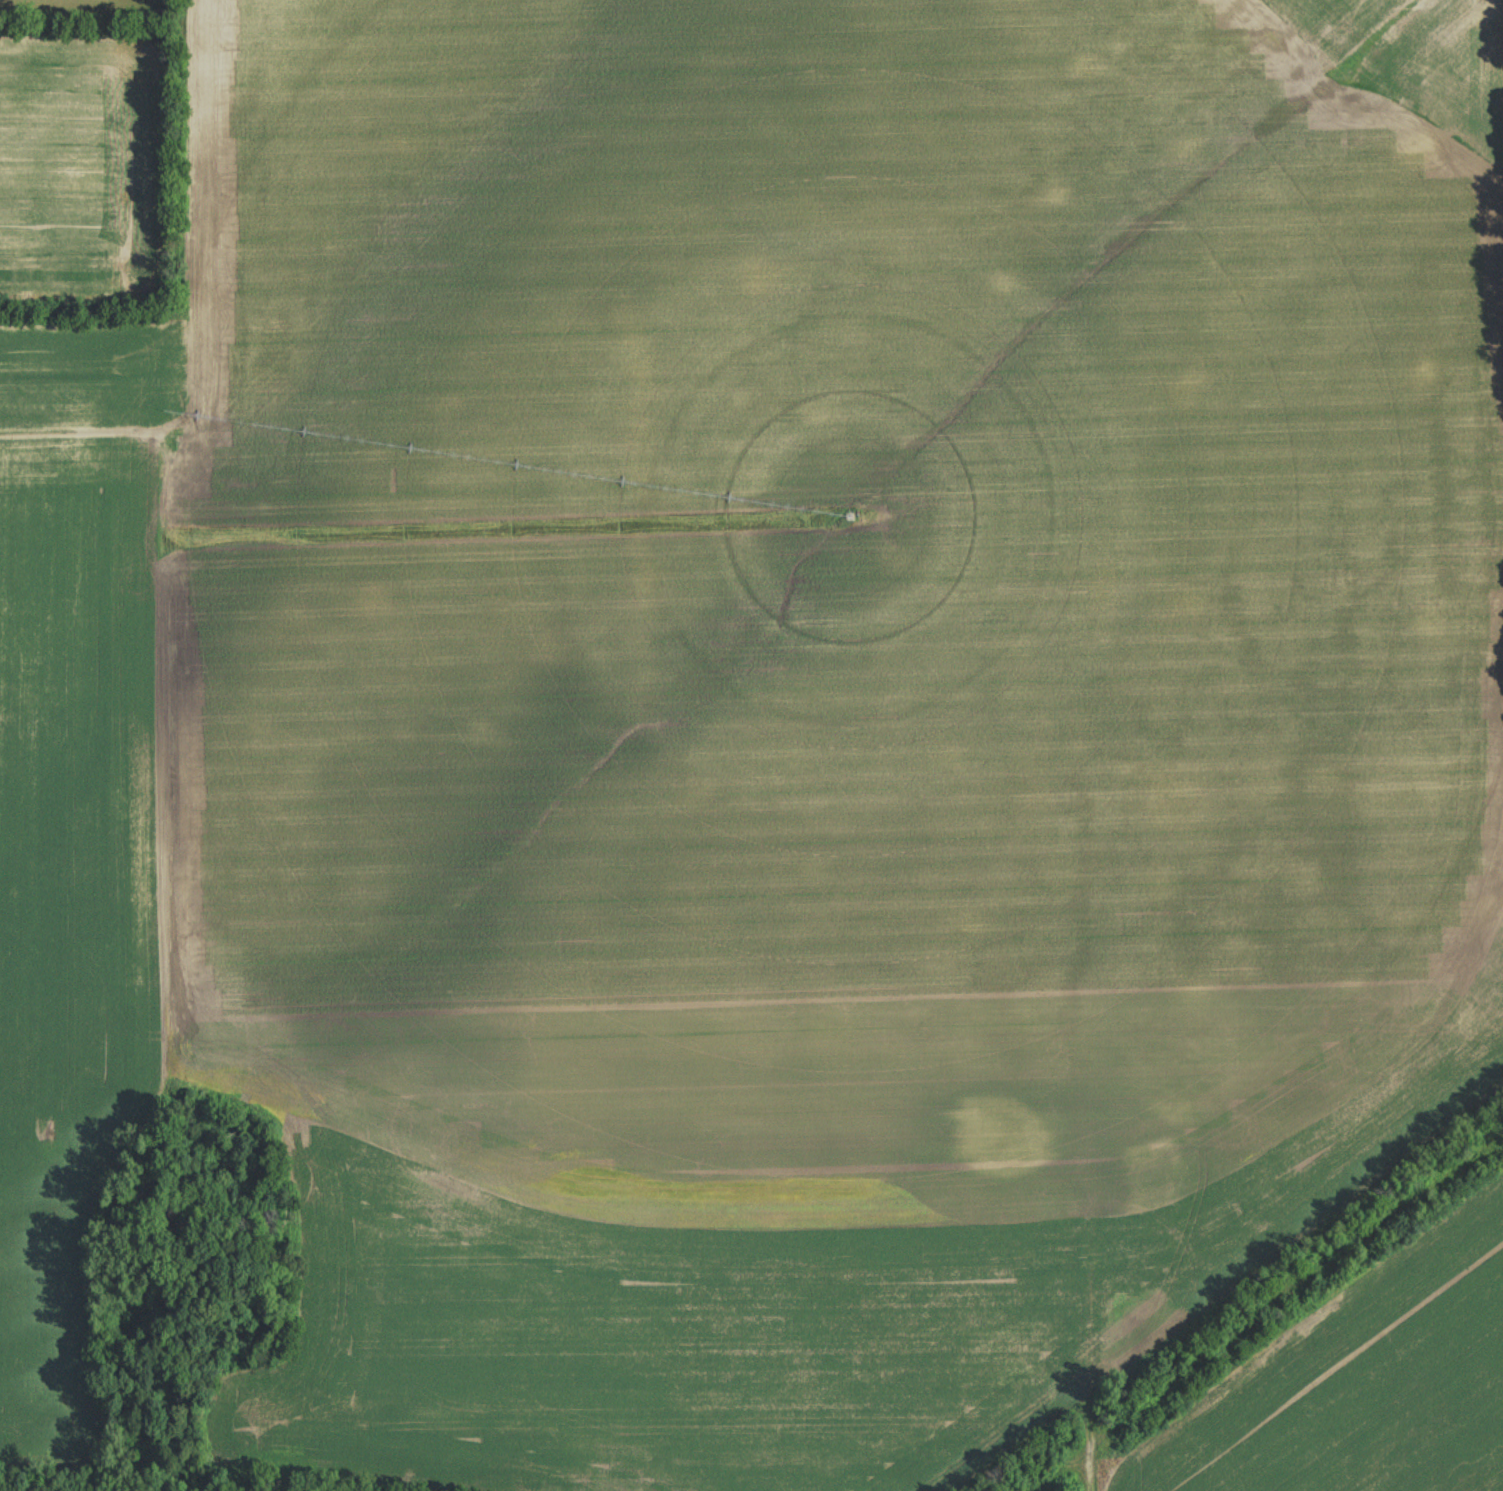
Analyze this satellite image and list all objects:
road: (1086, 1336)

